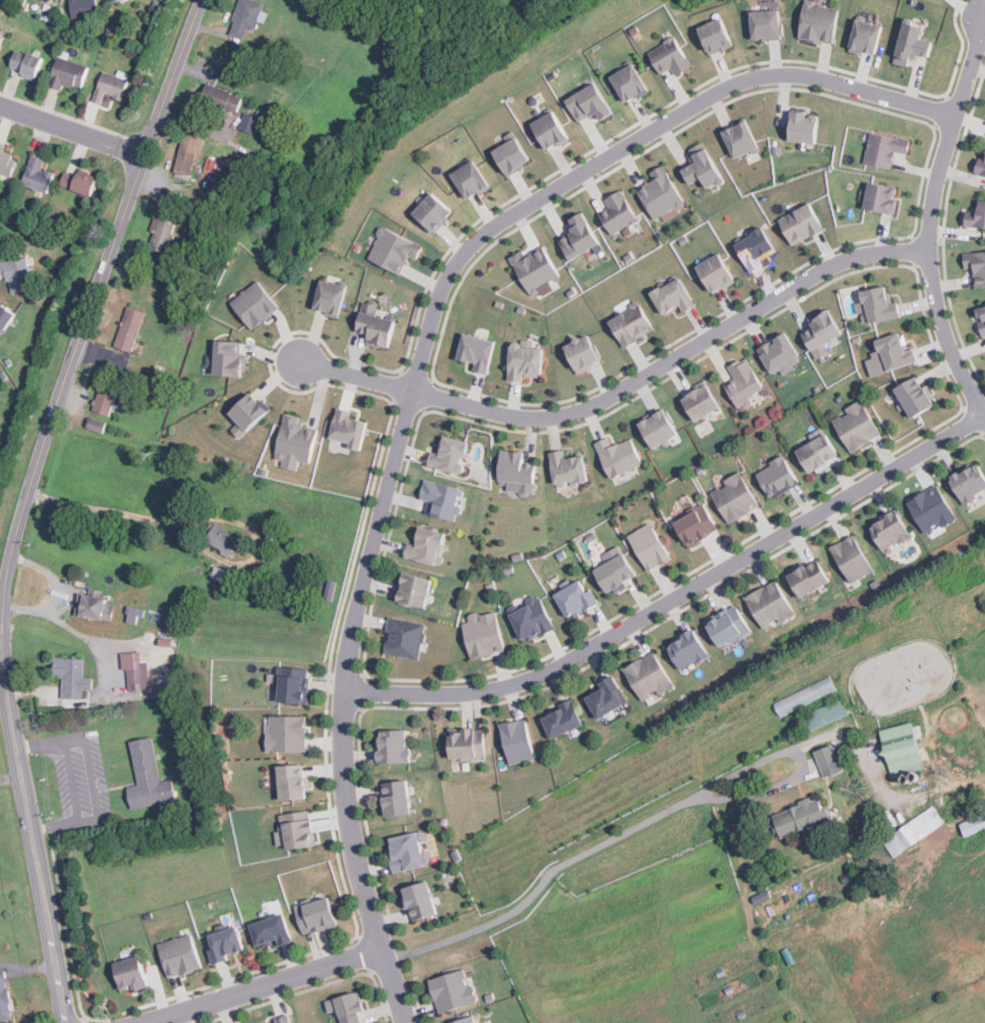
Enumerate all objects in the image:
building: (328, 0)
building: (116, 1)
building: (82, 10)
building: (246, 16)
building: (818, 22)
building: (766, 25)
building: (715, 36)
building: (1, 37)
building: (866, 37)
building: (911, 44)
building: (670, 58)
building: (26, 63)
building: (67, 73)
building: (227, 76)
building: (629, 83)
building: (110, 86)
building: (220, 96)
building: (588, 103)
building: (249, 122)
road: (72, 127)
building: (548, 129)
building: (809, 129)
building: (740, 139)
building: (888, 150)
building: (187, 151)
building: (509, 156)
building: (980, 163)
building: (6, 164)
building: (215, 166)
building: (703, 170)
building: (37, 174)
building: (470, 180)
building: (78, 182)
building: (660, 193)
building: (885, 198)
building: (430, 212)
building: (617, 212)
building: (977, 214)
road: (930, 220)
building: (806, 224)
building: (200, 225)
building: (162, 233)
building: (578, 237)
building: (1, 239)
building: (761, 249)
building: (392, 250)
building: (979, 266)
building: (534, 271)
building: (17, 274)
building: (721, 274)
building: (330, 297)
building: (678, 298)
building: (255, 305)
road: (91, 306)
building: (881, 308)
building: (983, 309)
building: (5, 316)
building: (635, 326)
building: (982, 326)
building: (378, 328)
building: (128, 330)
building: (821, 332)
building: (778, 350)
building: (480, 353)
building: (586, 354)
building: (890, 355)
building: (229, 359)
building: (528, 363)
road: (415, 367)
building: (156, 371)
building: (743, 382)
road: (625, 388)
building: (915, 398)
building: (701, 401)
building: (106, 402)
building: (249, 411)
building: (95, 426)
building: (658, 428)
building: (856, 428)
building: (351, 431)
building: (294, 442)
building: (450, 455)
building: (817, 455)
building: (618, 456)
building: (567, 467)
building: (702, 471)
building: (517, 472)
building: (777, 479)
building: (969, 483)
building: (443, 499)
building: (735, 500)
building: (931, 511)
road: (212, 517)
building: (697, 528)
building: (889, 532)
building: (222, 541)
building: (428, 545)
building: (650, 549)
building: (561, 557)
building: (851, 561)
building: (507, 572)
building: (614, 577)
building: (226, 581)
building: (807, 581)
building: (415, 590)
road: (56, 592)
building: (330, 593)
road: (671, 597)
building: (574, 601)
building: (769, 606)
building: (94, 609)
building: (134, 618)
building: (530, 622)
building: (727, 628)
building: (403, 639)
building: (482, 639)
building: (687, 652)
building: (136, 672)
building: (649, 677)
building: (72, 681)
road: (102, 688)
building: (293, 688)
building: (606, 696)
building: (805, 696)
building: (824, 714)
building: (562, 718)
road: (7, 726)
building: (288, 735)
road: (849, 740)
building: (516, 741)
building: (466, 744)
building: (395, 747)
building: (903, 749)
building: (829, 760)
road: (8, 776)
road: (90, 778)
building: (147, 778)
building: (293, 786)
road: (708, 795)
building: (398, 798)
building: (802, 818)
building: (972, 825)
building: (296, 830)
building: (914, 831)
building: (407, 852)
road: (41, 899)
building: (417, 901)
building: (314, 916)
building: (270, 932)
building: (223, 945)
building: (179, 955)
road: (327, 964)
road: (27, 968)
building: (132, 974)
building: (451, 992)
building: (4, 997)
building: (349, 1009)
building: (282, 1020)
building: (465, 1021)

